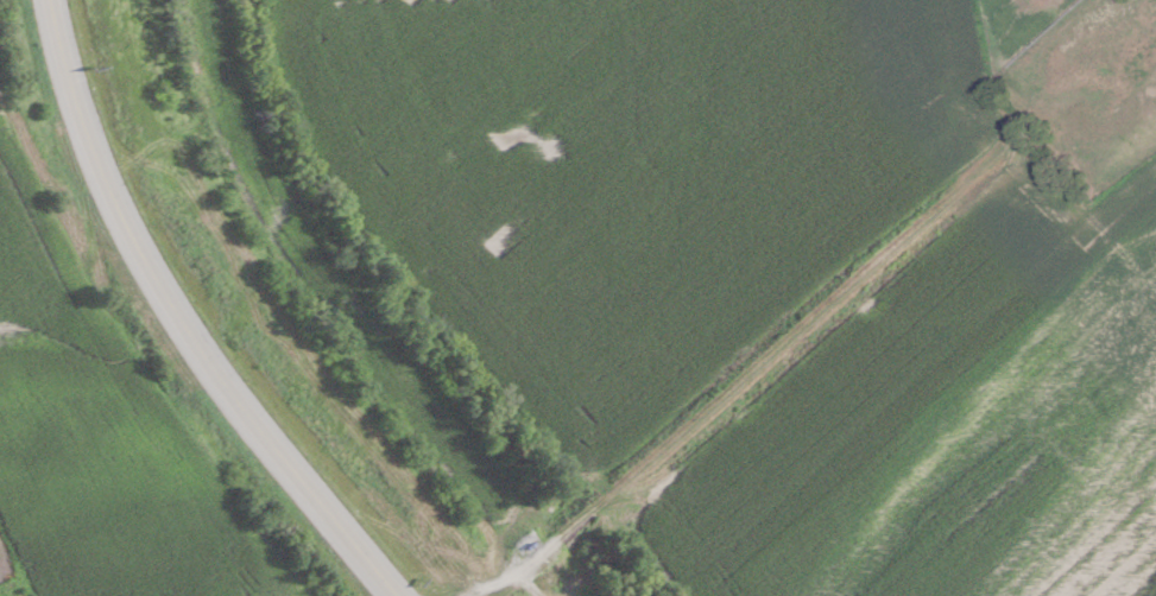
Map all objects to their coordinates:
road: (179, 321)

